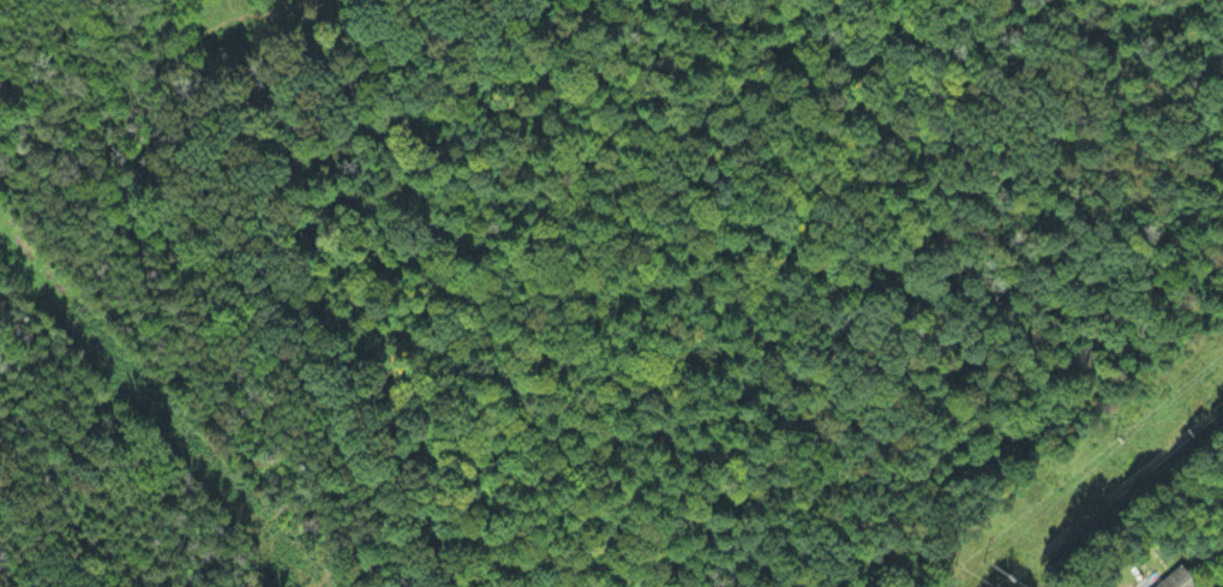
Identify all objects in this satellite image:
building: (1174, 579)

